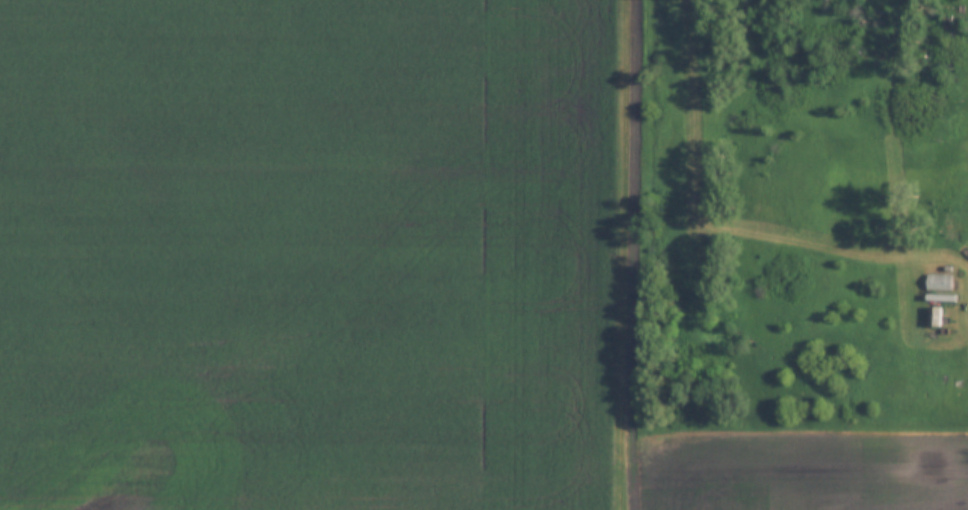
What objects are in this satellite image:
road: (627, 254)
building: (939, 282)
building: (941, 298)
building: (935, 317)

